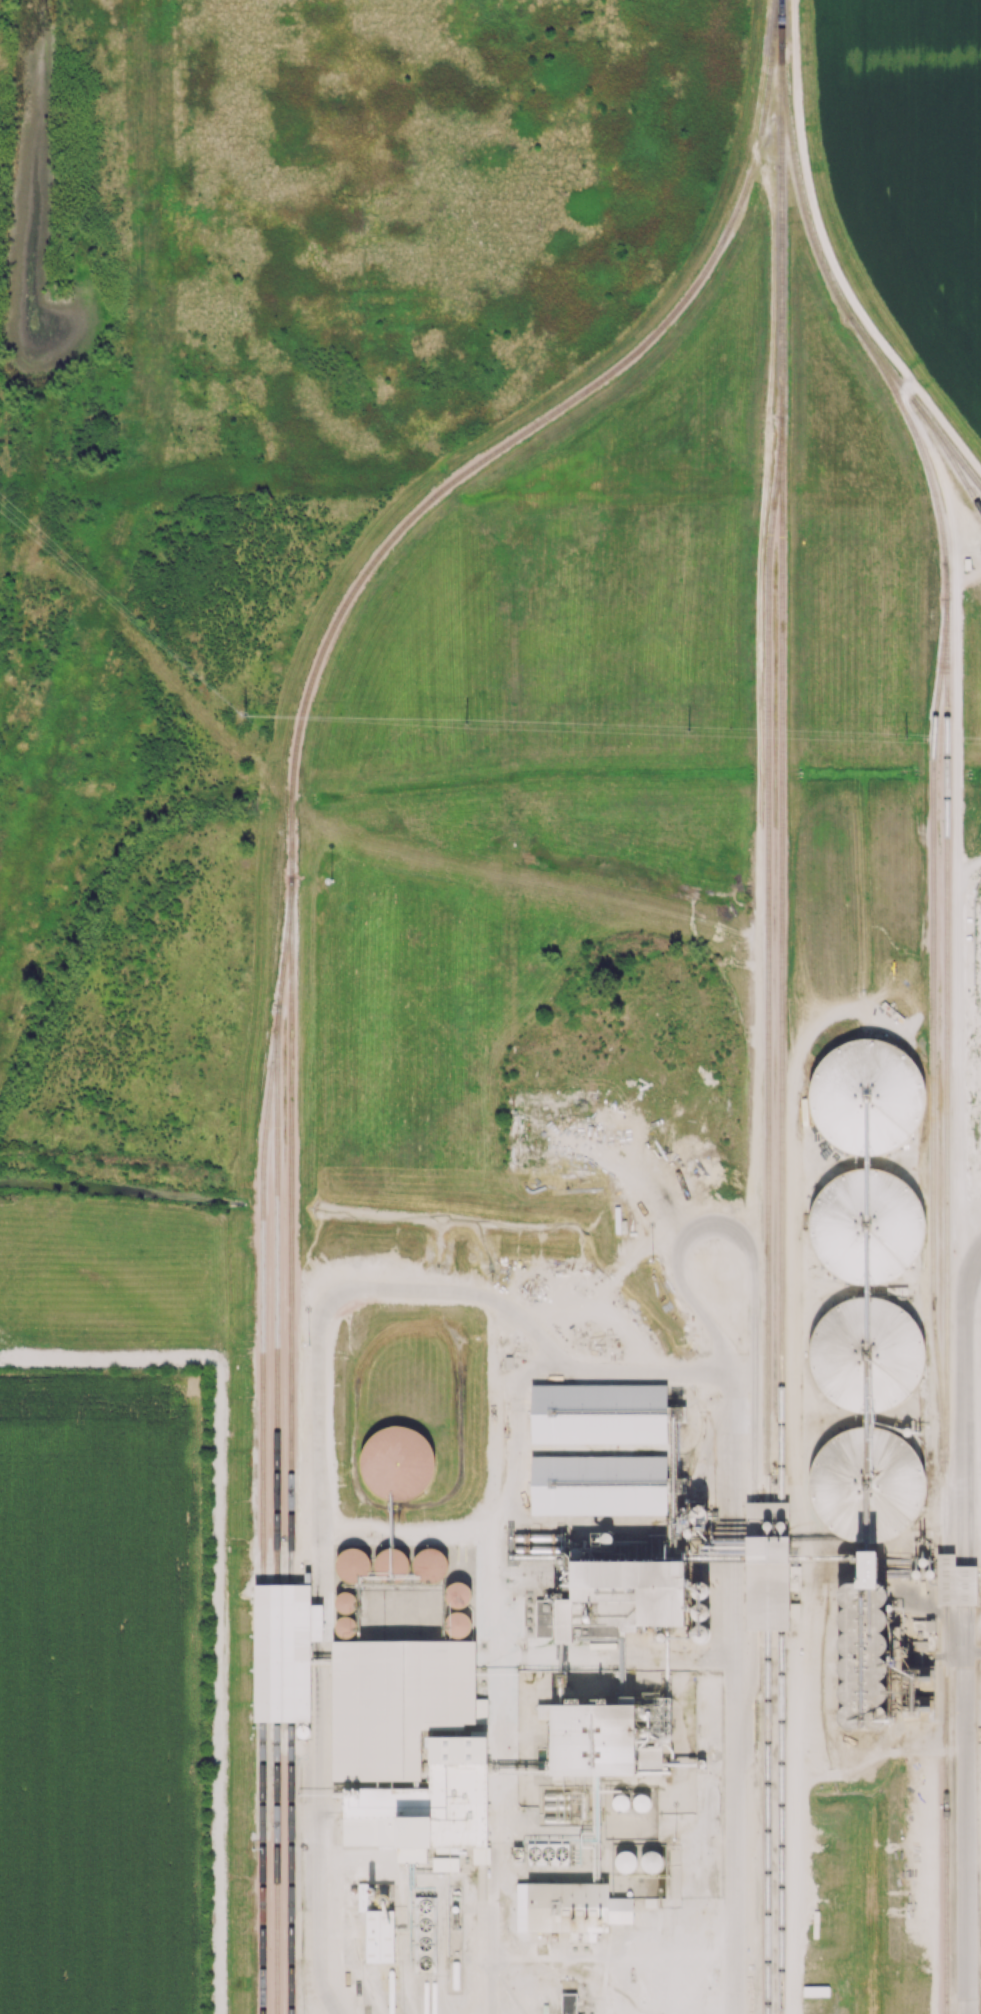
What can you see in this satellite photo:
railway: (782, 29)
road: (796, 41)
road: (761, 155)
road: (679, 293)
road: (848, 293)
road: (772, 329)
railway: (915, 403)
railway: (947, 458)
power tower: (248, 717)
power tower: (467, 722)
power tower: (691, 729)
power tower: (909, 737)
railway: (288, 912)
railway: (947, 1019)
railway: (935, 1031)
railway: (767, 1035)
railway: (782, 1216)
road: (410, 1285)
railway: (292, 1447)
railway: (263, 1509)
road: (443, 1532)
road: (735, 1599)
road: (969, 1631)
road: (497, 1662)
building: (393, 1702)
building: (593, 1738)
building: (424, 1804)
building: (539, 1854)
road: (319, 1877)
building: (571, 1907)
building: (375, 1921)
building: (420, 1934)
road: (616, 1960)

